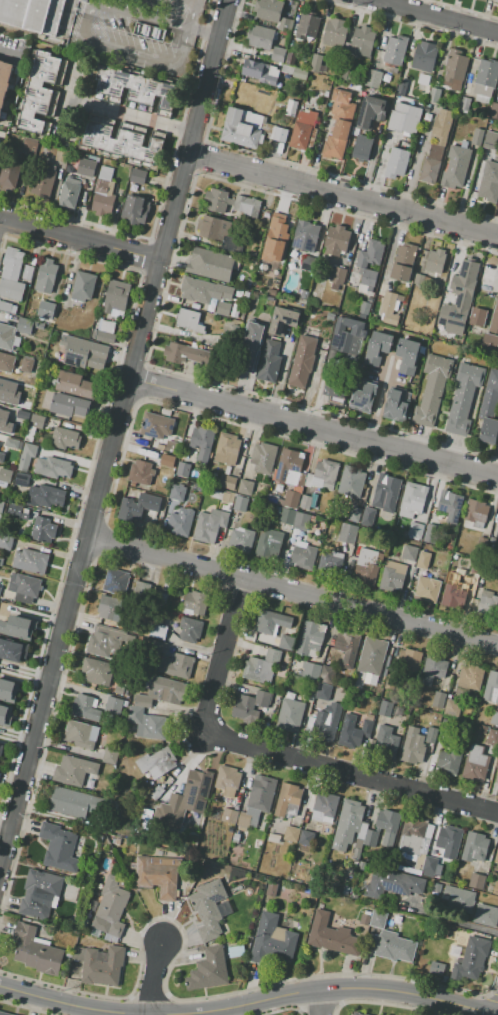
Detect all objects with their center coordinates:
building: (496, 0)
building: (290, 8)
road: (464, 8)
building: (268, 11)
building: (39, 16)
road: (437, 16)
road: (411, 23)
building: (286, 24)
building: (308, 28)
road: (202, 30)
building: (335, 33)
road: (83, 36)
building: (261, 37)
building: (362, 42)
building: (396, 49)
road: (7, 53)
building: (277, 53)
building: (425, 56)
building: (315, 62)
building: (455, 70)
building: (260, 71)
building: (300, 74)
building: (4, 78)
building: (373, 78)
building: (423, 79)
building: (485, 80)
building: (402, 87)
building: (136, 88)
building: (42, 92)
building: (434, 96)
building: (263, 99)
road: (70, 100)
building: (464, 104)
building: (292, 108)
road: (131, 112)
building: (494, 112)
building: (371, 113)
building: (404, 118)
road: (180, 119)
building: (339, 124)
building: (442, 127)
building: (249, 128)
road: (192, 129)
building: (304, 130)
building: (490, 140)
building: (0, 142)
building: (122, 143)
building: (0, 145)
building: (363, 147)
building: (30, 148)
building: (436, 152)
building: (61, 155)
road: (280, 160)
building: (397, 161)
building: (455, 166)
building: (86, 167)
building: (430, 170)
building: (9, 175)
building: (138, 176)
building: (489, 181)
building: (42, 182)
building: (103, 192)
building: (69, 193)
road: (342, 194)
building: (231, 203)
building: (134, 210)
road: (7, 218)
road: (74, 218)
building: (266, 218)
building: (215, 229)
building: (282, 229)
road: (1, 235)
building: (305, 235)
road: (78, 238)
road: (149, 240)
building: (336, 240)
road: (162, 245)
building: (371, 253)
road: (145, 257)
building: (435, 261)
building: (403, 262)
building: (211, 263)
building: (307, 263)
building: (11, 264)
building: (28, 272)
building: (46, 275)
road: (154, 275)
building: (337, 277)
building: (368, 278)
building: (418, 279)
building: (348, 280)
building: (248, 283)
building: (83, 286)
building: (11, 289)
building: (201, 290)
road: (163, 292)
building: (270, 292)
building: (246, 295)
building: (312, 295)
building: (303, 296)
building: (116, 298)
building: (459, 298)
building: (270, 299)
building: (7, 307)
building: (389, 307)
building: (223, 308)
building: (46, 310)
building: (364, 310)
building: (477, 316)
building: (494, 319)
building: (189, 320)
building: (282, 321)
building: (25, 325)
building: (39, 326)
building: (309, 329)
building: (326, 335)
building: (347, 335)
building: (7, 337)
building: (105, 337)
building: (72, 341)
building: (489, 343)
building: (250, 346)
building: (378, 347)
building: (186, 354)
building: (407, 355)
building: (96, 357)
building: (269, 361)
building: (302, 361)
building: (6, 362)
building: (25, 364)
road: (279, 378)
building: (0, 380)
road: (141, 382)
building: (74, 384)
building: (432, 389)
building: (363, 395)
building: (463, 398)
road: (378, 400)
building: (397, 404)
building: (69, 405)
building: (0, 410)
building: (166, 411)
building: (488, 412)
building: (19, 414)
building: (37, 421)
building: (156, 425)
road: (257, 428)
road: (312, 428)
building: (64, 438)
building: (202, 442)
building: (11, 443)
building: (172, 447)
building: (227, 449)
building: (26, 456)
building: (2, 457)
building: (263, 458)
building: (167, 461)
road: (90, 463)
building: (289, 466)
building: (53, 467)
building: (183, 469)
building: (141, 472)
building: (325, 474)
building: (5, 475)
building: (22, 480)
building: (352, 481)
building: (227, 482)
building: (246, 487)
building: (279, 487)
building: (386, 492)
building: (177, 493)
building: (50, 496)
building: (228, 497)
building: (291, 499)
building: (412, 500)
building: (306, 502)
building: (241, 504)
building: (1, 507)
building: (137, 507)
building: (450, 507)
building: (16, 511)
building: (476, 511)
building: (355, 514)
building: (375, 516)
building: (287, 517)
building: (180, 521)
building: (301, 521)
building: (209, 525)
building: (43, 529)
building: (415, 530)
building: (497, 532)
building: (344, 533)
building: (431, 534)
building: (361, 538)
building: (241, 539)
road: (99, 540)
building: (6, 541)
building: (269, 544)
building: (410, 552)
building: (455, 554)
building: (303, 555)
building: (30, 560)
building: (423, 560)
road: (79, 561)
building: (1, 562)
building: (330, 563)
building: (366, 568)
building: (392, 577)
building: (116, 581)
building: (0, 588)
building: (26, 588)
building: (141, 589)
road: (291, 590)
building: (427, 590)
building: (453, 595)
building: (196, 602)
building: (488, 606)
building: (111, 608)
building: (271, 621)
building: (19, 626)
building: (190, 628)
building: (156, 631)
building: (310, 639)
building: (110, 641)
building: (286, 642)
building: (155, 646)
building: (347, 647)
building: (12, 650)
building: (372, 656)
building: (408, 660)
building: (177, 665)
building: (261, 666)
building: (435, 666)
building: (97, 671)
building: (311, 672)
building: (471, 677)
building: (491, 688)
building: (8, 690)
building: (119, 690)
building: (160, 691)
building: (323, 692)
building: (439, 699)
building: (113, 706)
building: (250, 706)
building: (452, 707)
building: (85, 708)
building: (385, 708)
building: (290, 711)
building: (5, 714)
building: (494, 718)
building: (148, 724)
building: (324, 727)
building: (447, 727)
building: (353, 732)
building: (81, 734)
building: (431, 735)
road: (47, 737)
building: (492, 737)
building: (386, 742)
building: (413, 746)
building: (1, 749)
road: (271, 751)
building: (110, 755)
building: (157, 762)
building: (448, 762)
building: (476, 762)
building: (496, 763)
building: (76, 772)
building: (227, 780)
building: (197, 787)
building: (157, 792)
building: (287, 798)
building: (256, 800)
building: (75, 802)
building: (325, 804)
building: (146, 814)
building: (227, 815)
building: (347, 823)
building: (388, 826)
building: (429, 831)
building: (291, 834)
building: (273, 837)
building: (449, 837)
building: (306, 838)
building: (370, 838)
building: (424, 845)
building: (474, 847)
building: (59, 848)
building: (231, 855)
building: (496, 857)
building: (361, 865)
building: (429, 866)
building: (158, 875)
building: (476, 881)
building: (392, 883)
building: (436, 888)
building: (495, 888)
building: (272, 889)
building: (345, 890)
building: (39, 893)
building: (457, 899)
building: (111, 906)
building: (208, 908)
building: (486, 915)
building: (365, 919)
building: (378, 919)
road: (453, 920)
building: (332, 935)
building: (271, 940)
building: (394, 946)
building: (34, 952)
building: (471, 959)
building: (102, 965)
building: (436, 968)
building: (209, 969)
road: (151, 977)
road: (493, 996)
road: (180, 998)
road: (323, 1001)
road: (249, 1002)
road: (383, 1003)
road: (29, 1007)
road: (282, 1008)
building: (5, 1013)
building: (359, 1013)

